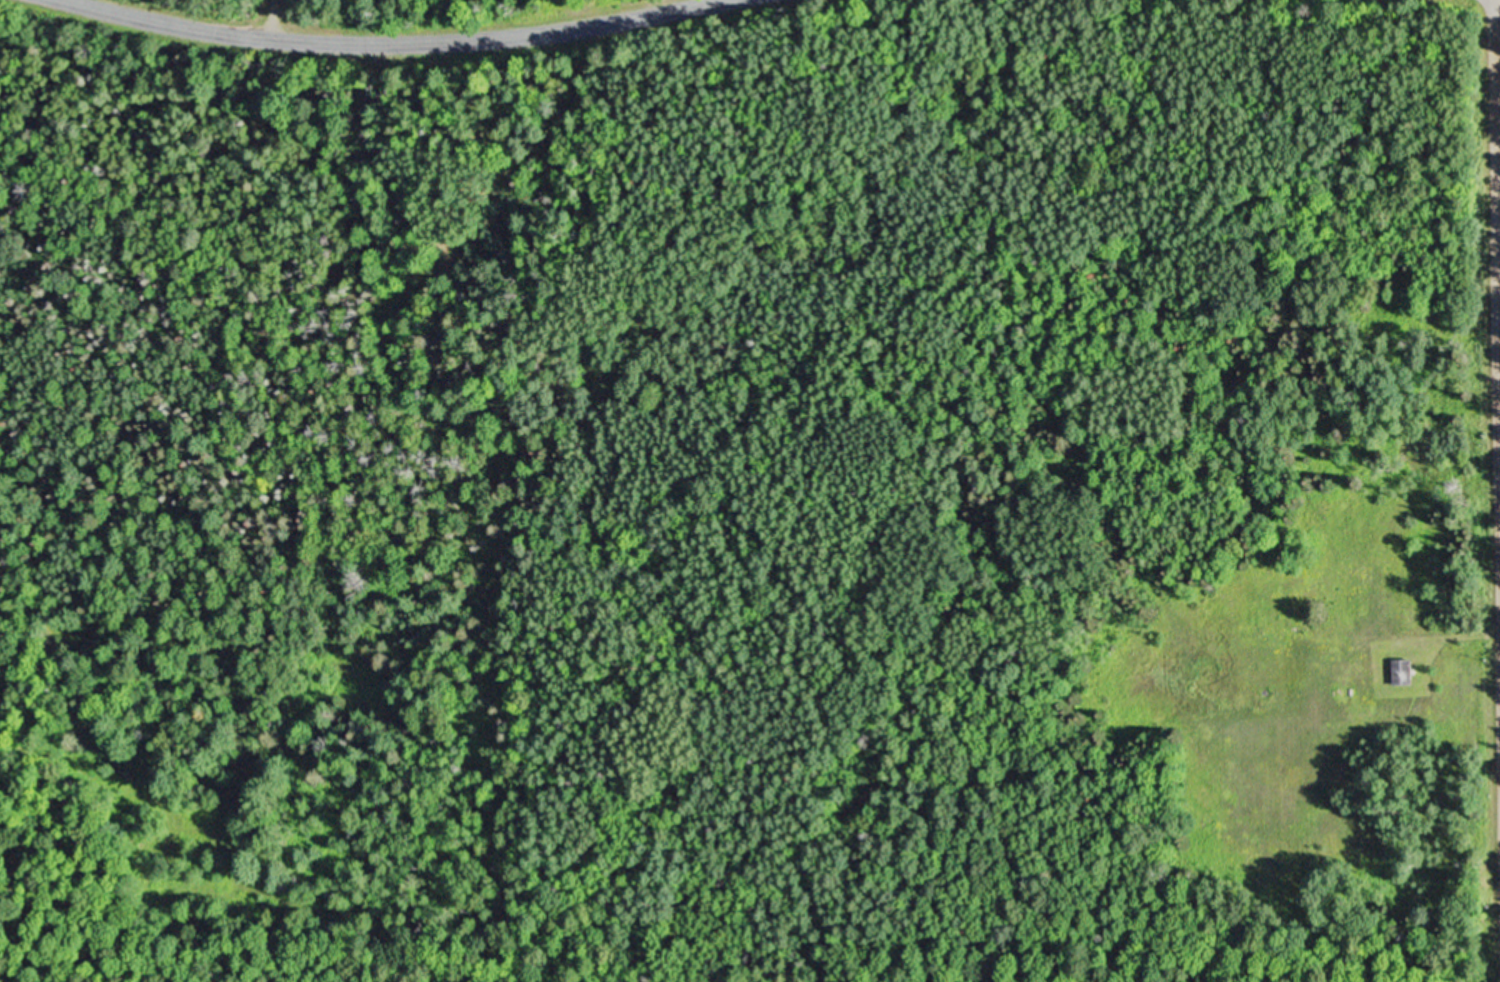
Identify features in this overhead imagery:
road: (271, 17)
road: (390, 36)
road: (1499, 217)
building: (1405, 670)

